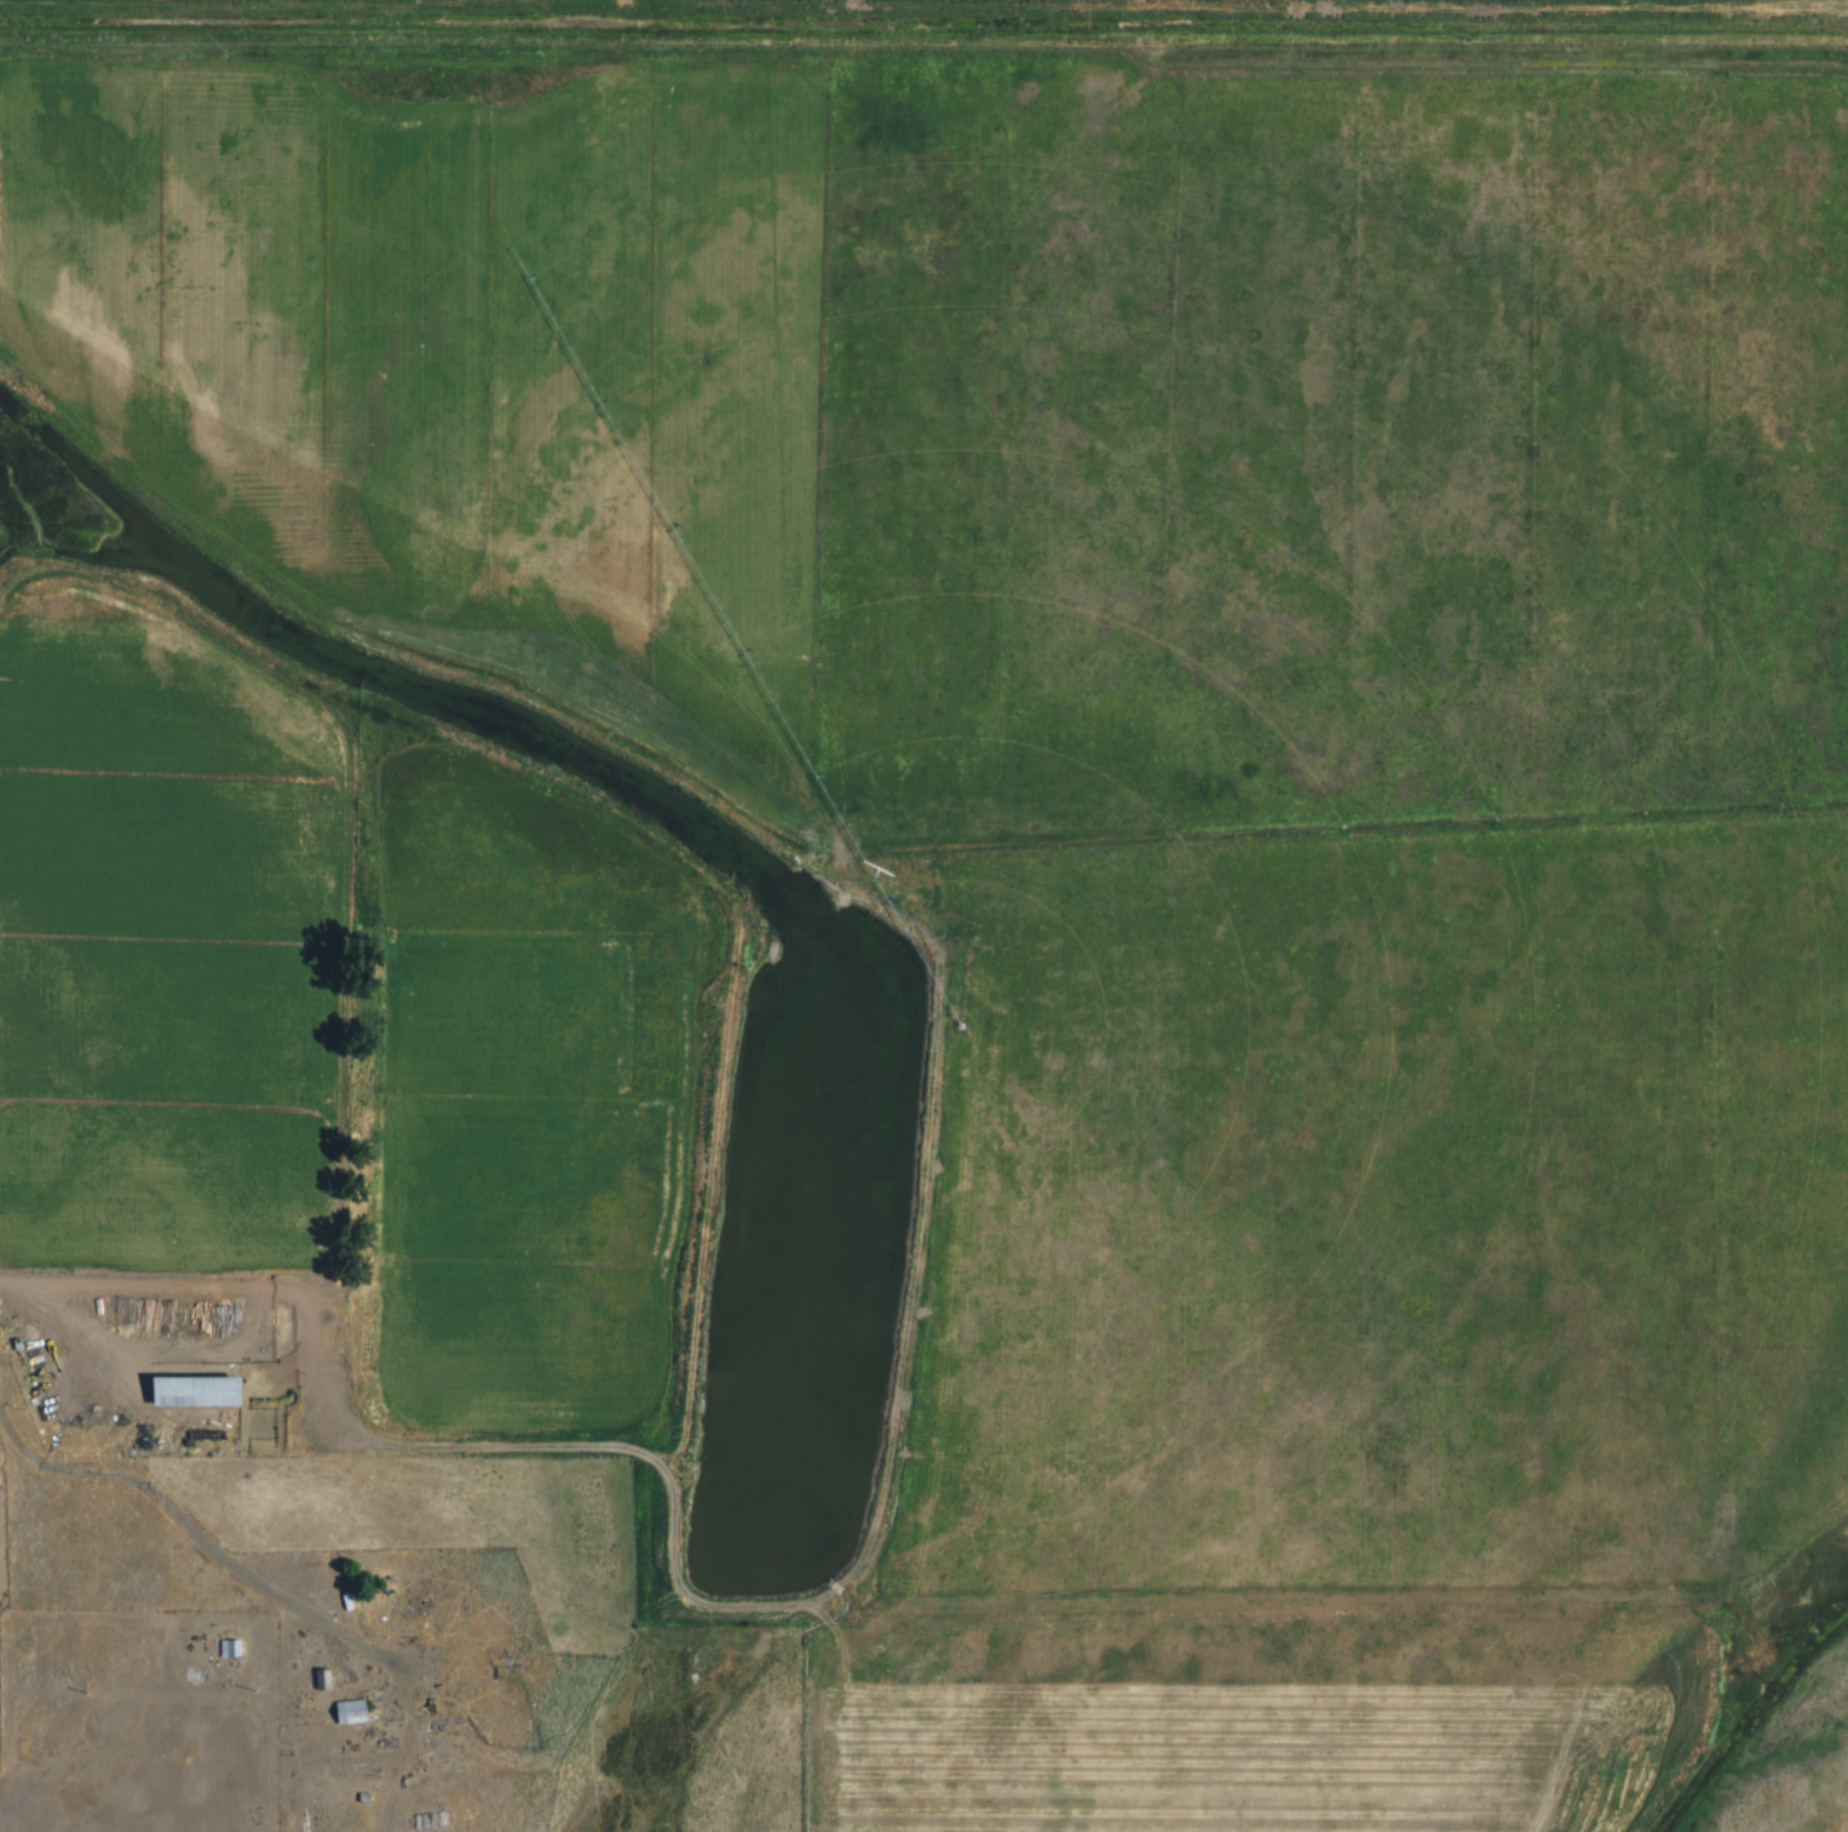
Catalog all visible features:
crop: (478, 358)
crop: (1334, 450)
crop: (178, 943)
crop: (542, 1089)
crop: (1393, 1216)
road: (162, 1347)
building: (207, 1385)
road: (219, 1539)
building: (364, 1596)
road: (720, 1602)
building: (242, 1647)
building: (229, 1648)
building: (364, 1710)
building: (349, 1711)
crop: (1272, 1719)

